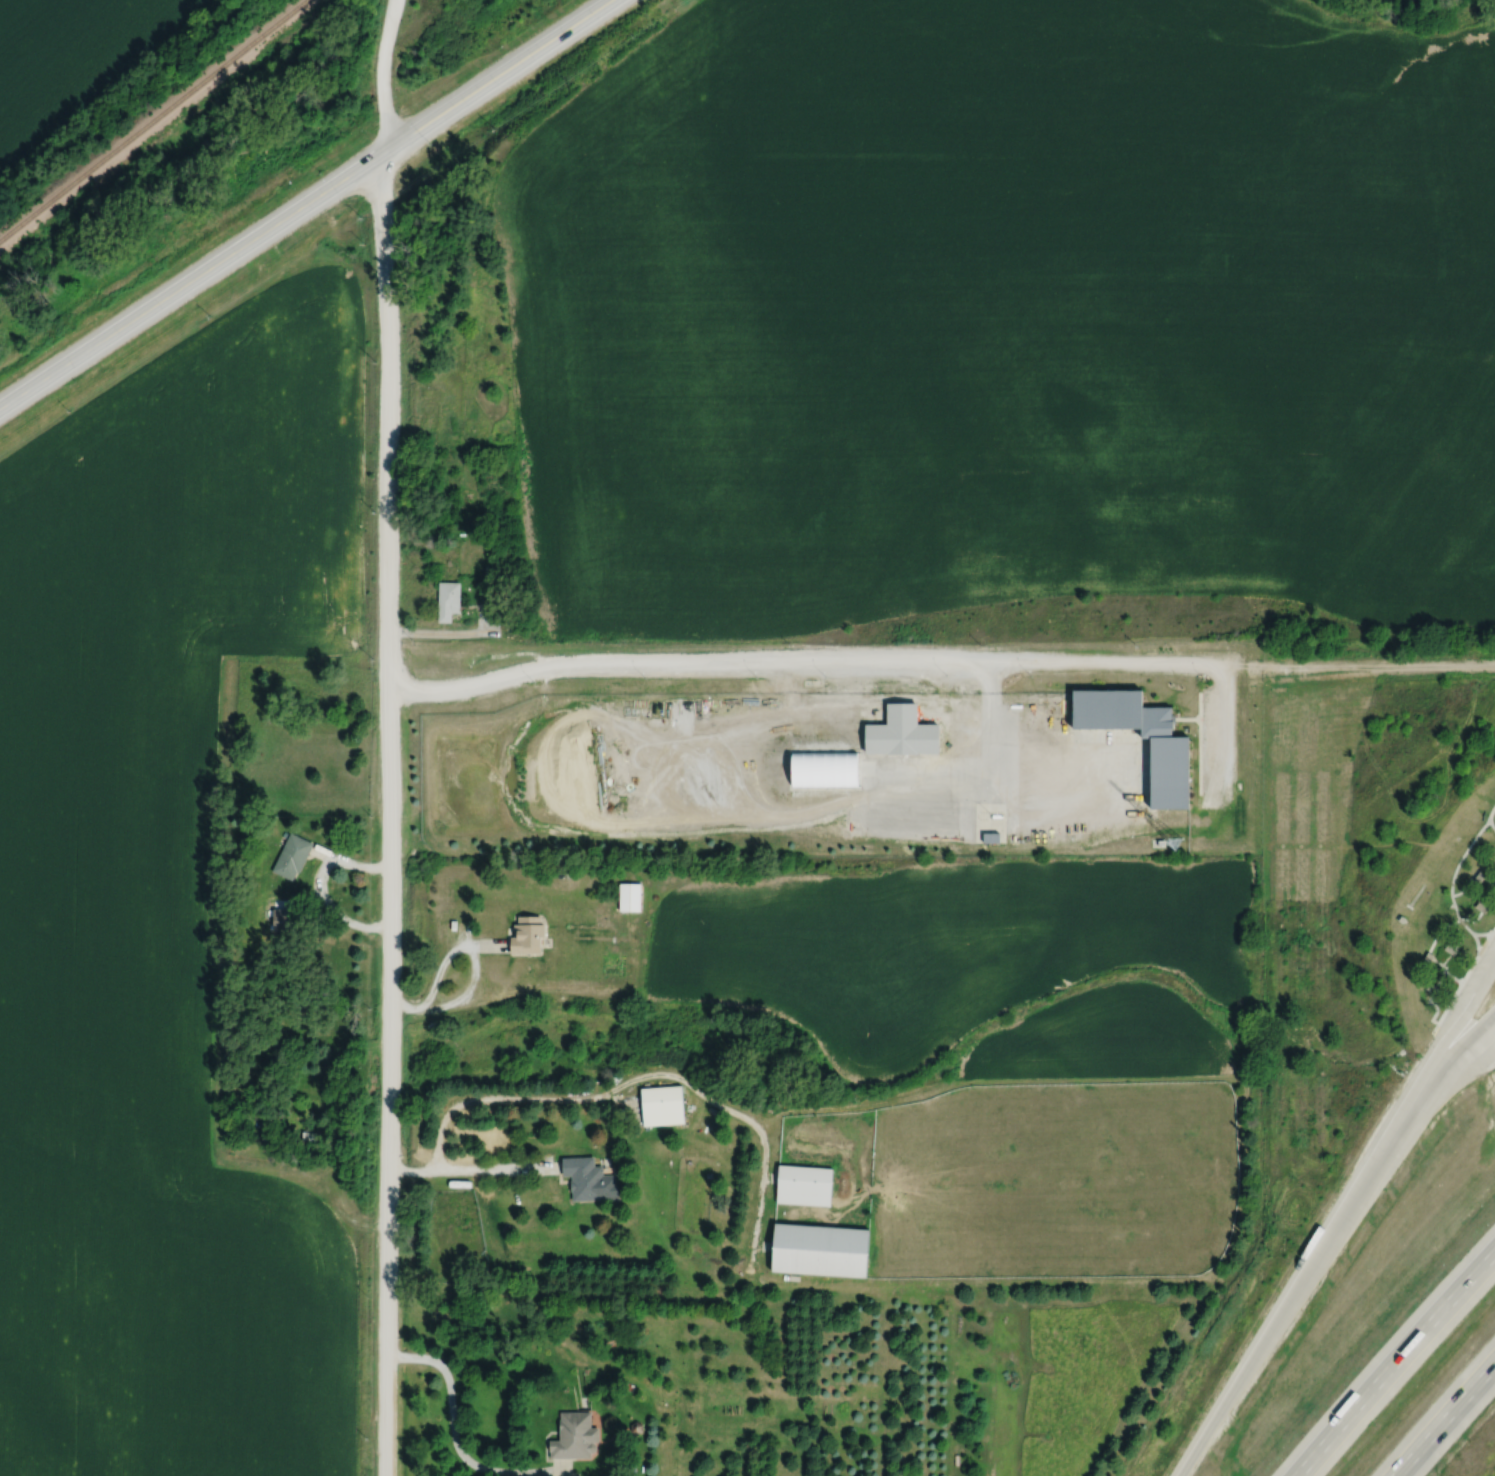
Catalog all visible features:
road: (376, 78)
road: (496, 79)
railway: (153, 122)
road: (187, 285)
building: (497, 571)
building: (494, 597)
building: (453, 601)
road: (938, 652)
road: (985, 720)
road: (1220, 723)
building: (896, 732)
building: (1161, 770)
road: (385, 817)
road: (1490, 823)
building: (987, 836)
building: (295, 857)
road: (1453, 874)
road: (1488, 881)
road: (1493, 883)
road: (1494, 890)
road: (319, 892)
building: (626, 896)
road: (1489, 897)
road: (1480, 933)
building: (522, 934)
road: (1445, 959)
road: (1438, 962)
parking lot: (1479, 968)
road: (1443, 972)
road: (1461, 977)
road: (469, 997)
road: (403, 1013)
road: (1478, 1039)
road: (1441, 1050)
road: (1478, 1055)
road: (1424, 1099)
building: (658, 1105)
road: (471, 1175)
building: (580, 1177)
building: (800, 1185)
building: (814, 1250)
road: (1283, 1308)
road: (1394, 1362)
road: (450, 1403)
road: (1443, 1417)
building: (571, 1437)
road: (564, 1472)

